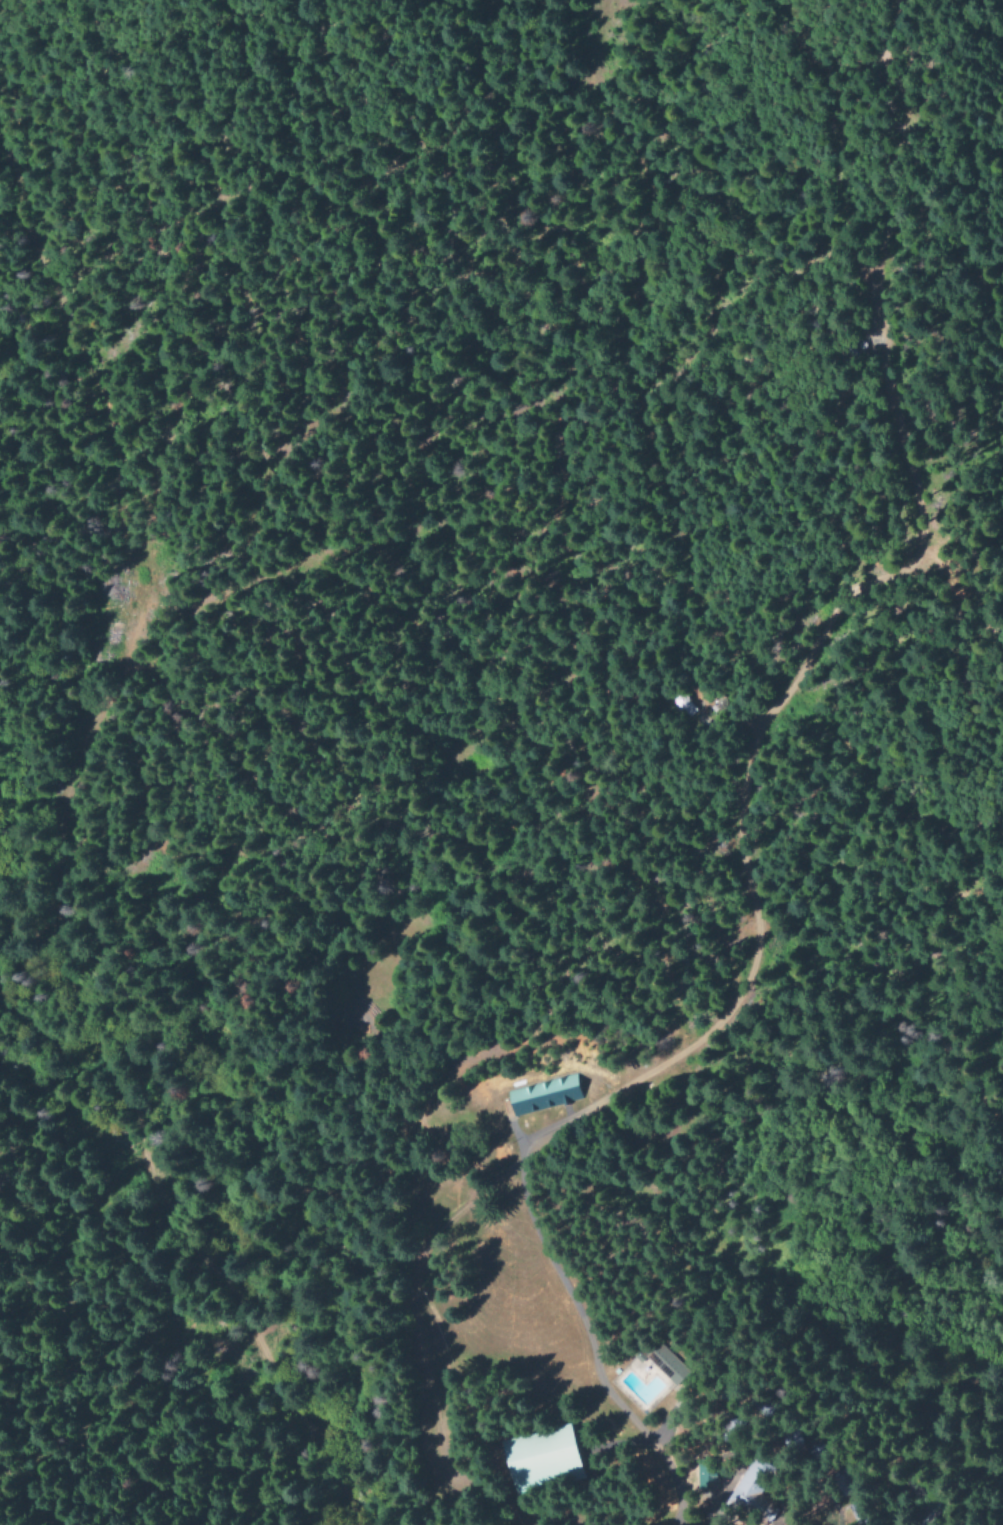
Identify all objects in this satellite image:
building: (544, 1097)
building: (671, 1366)
building: (539, 1458)
building: (748, 1491)

